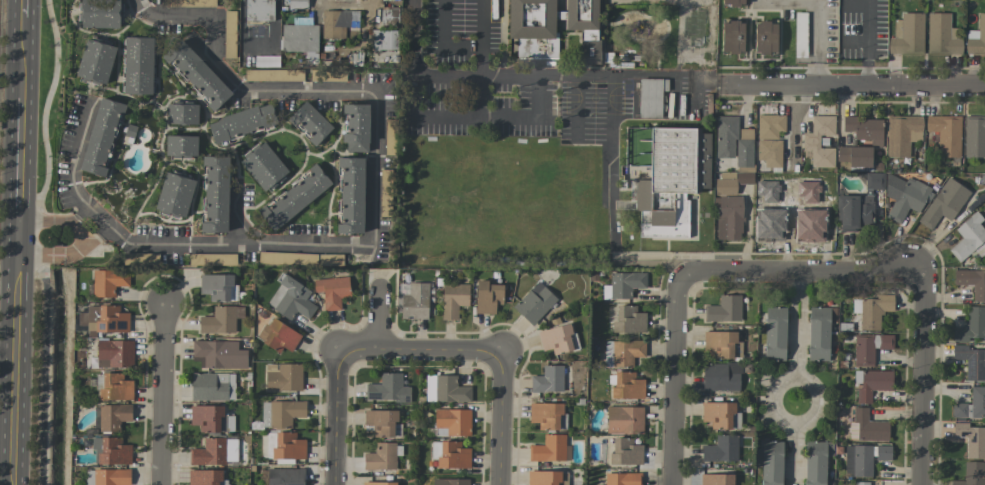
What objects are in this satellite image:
road: (353, 2)
building: (192, 3)
building: (733, 3)
building: (297, 4)
building: (259, 11)
building: (99, 14)
building: (338, 23)
building: (584, 27)
building: (533, 28)
building: (229, 34)
building: (908, 35)
building: (942, 35)
building: (732, 37)
road: (481, 38)
building: (765, 38)
building: (976, 38)
building: (300, 40)
building: (385, 40)
road: (816, 42)
road: (864, 42)
road: (413, 59)
building: (95, 62)
building: (138, 66)
building: (197, 75)
building: (273, 75)
road: (856, 85)
building: (651, 97)
road: (539, 98)
building: (182, 114)
building: (242, 123)
building: (310, 123)
building: (356, 127)
building: (865, 129)
building: (902, 134)
building: (945, 134)
building: (100, 137)
building: (390, 137)
building: (726, 137)
building: (974, 137)
building: (769, 139)
building: (811, 142)
building: (181, 146)
building: (744, 148)
building: (855, 156)
road: (373, 165)
building: (264, 167)
road: (69, 173)
building: (671, 181)
building: (874, 181)
building: (725, 187)
building: (385, 193)
building: (215, 194)
building: (351, 195)
building: (174, 196)
building: (904, 197)
building: (295, 198)
building: (944, 203)
building: (866, 210)
building: (848, 213)
building: (731, 217)
road: (53, 223)
road: (84, 229)
building: (968, 237)
road: (24, 238)
road: (18, 242)
road: (55, 248)
building: (287, 258)
road: (798, 274)
building: (108, 282)
building: (972, 282)
building: (625, 284)
road: (796, 284)
building: (218, 287)
building: (332, 291)
building: (488, 297)
building: (291, 299)
building: (453, 300)
building: (414, 302)
building: (534, 303)
building: (724, 309)
road: (790, 309)
road: (803, 309)
building: (872, 311)
road: (383, 319)
building: (104, 320)
building: (221, 320)
building: (629, 320)
building: (971, 325)
building: (775, 334)
building: (818, 334)
building: (278, 336)
building: (557, 339)
building: (722, 345)
building: (869, 348)
road: (419, 351)
road: (796, 352)
building: (623, 353)
building: (114, 354)
building: (219, 355)
building: (971, 362)
building: (283, 377)
building: (721, 377)
road: (917, 378)
building: (548, 380)
road: (675, 381)
road: (806, 384)
building: (871, 384)
building: (627, 386)
building: (115, 387)
building: (212, 387)
building: (388, 389)
building: (445, 390)
road: (164, 392)
building: (971, 405)
building: (281, 413)
building: (720, 415)
building: (548, 416)
building: (113, 417)
building: (210, 418)
road: (335, 418)
road: (498, 418)
building: (624, 420)
building: (453, 421)
building: (381, 423)
building: (867, 427)
building: (971, 439)
building: (285, 446)
building: (550, 449)
building: (721, 449)
building: (111, 451)
building: (214, 452)
building: (625, 452)
road: (793, 452)
building: (450, 455)
building: (381, 457)
building: (863, 459)
building: (771, 463)
building: (815, 463)
building: (971, 474)
building: (285, 476)
building: (107, 477)
building: (206, 477)
building: (547, 478)
building: (622, 479)
building: (716, 479)
building: (450, 482)
building: (378, 483)
building: (861, 483)

